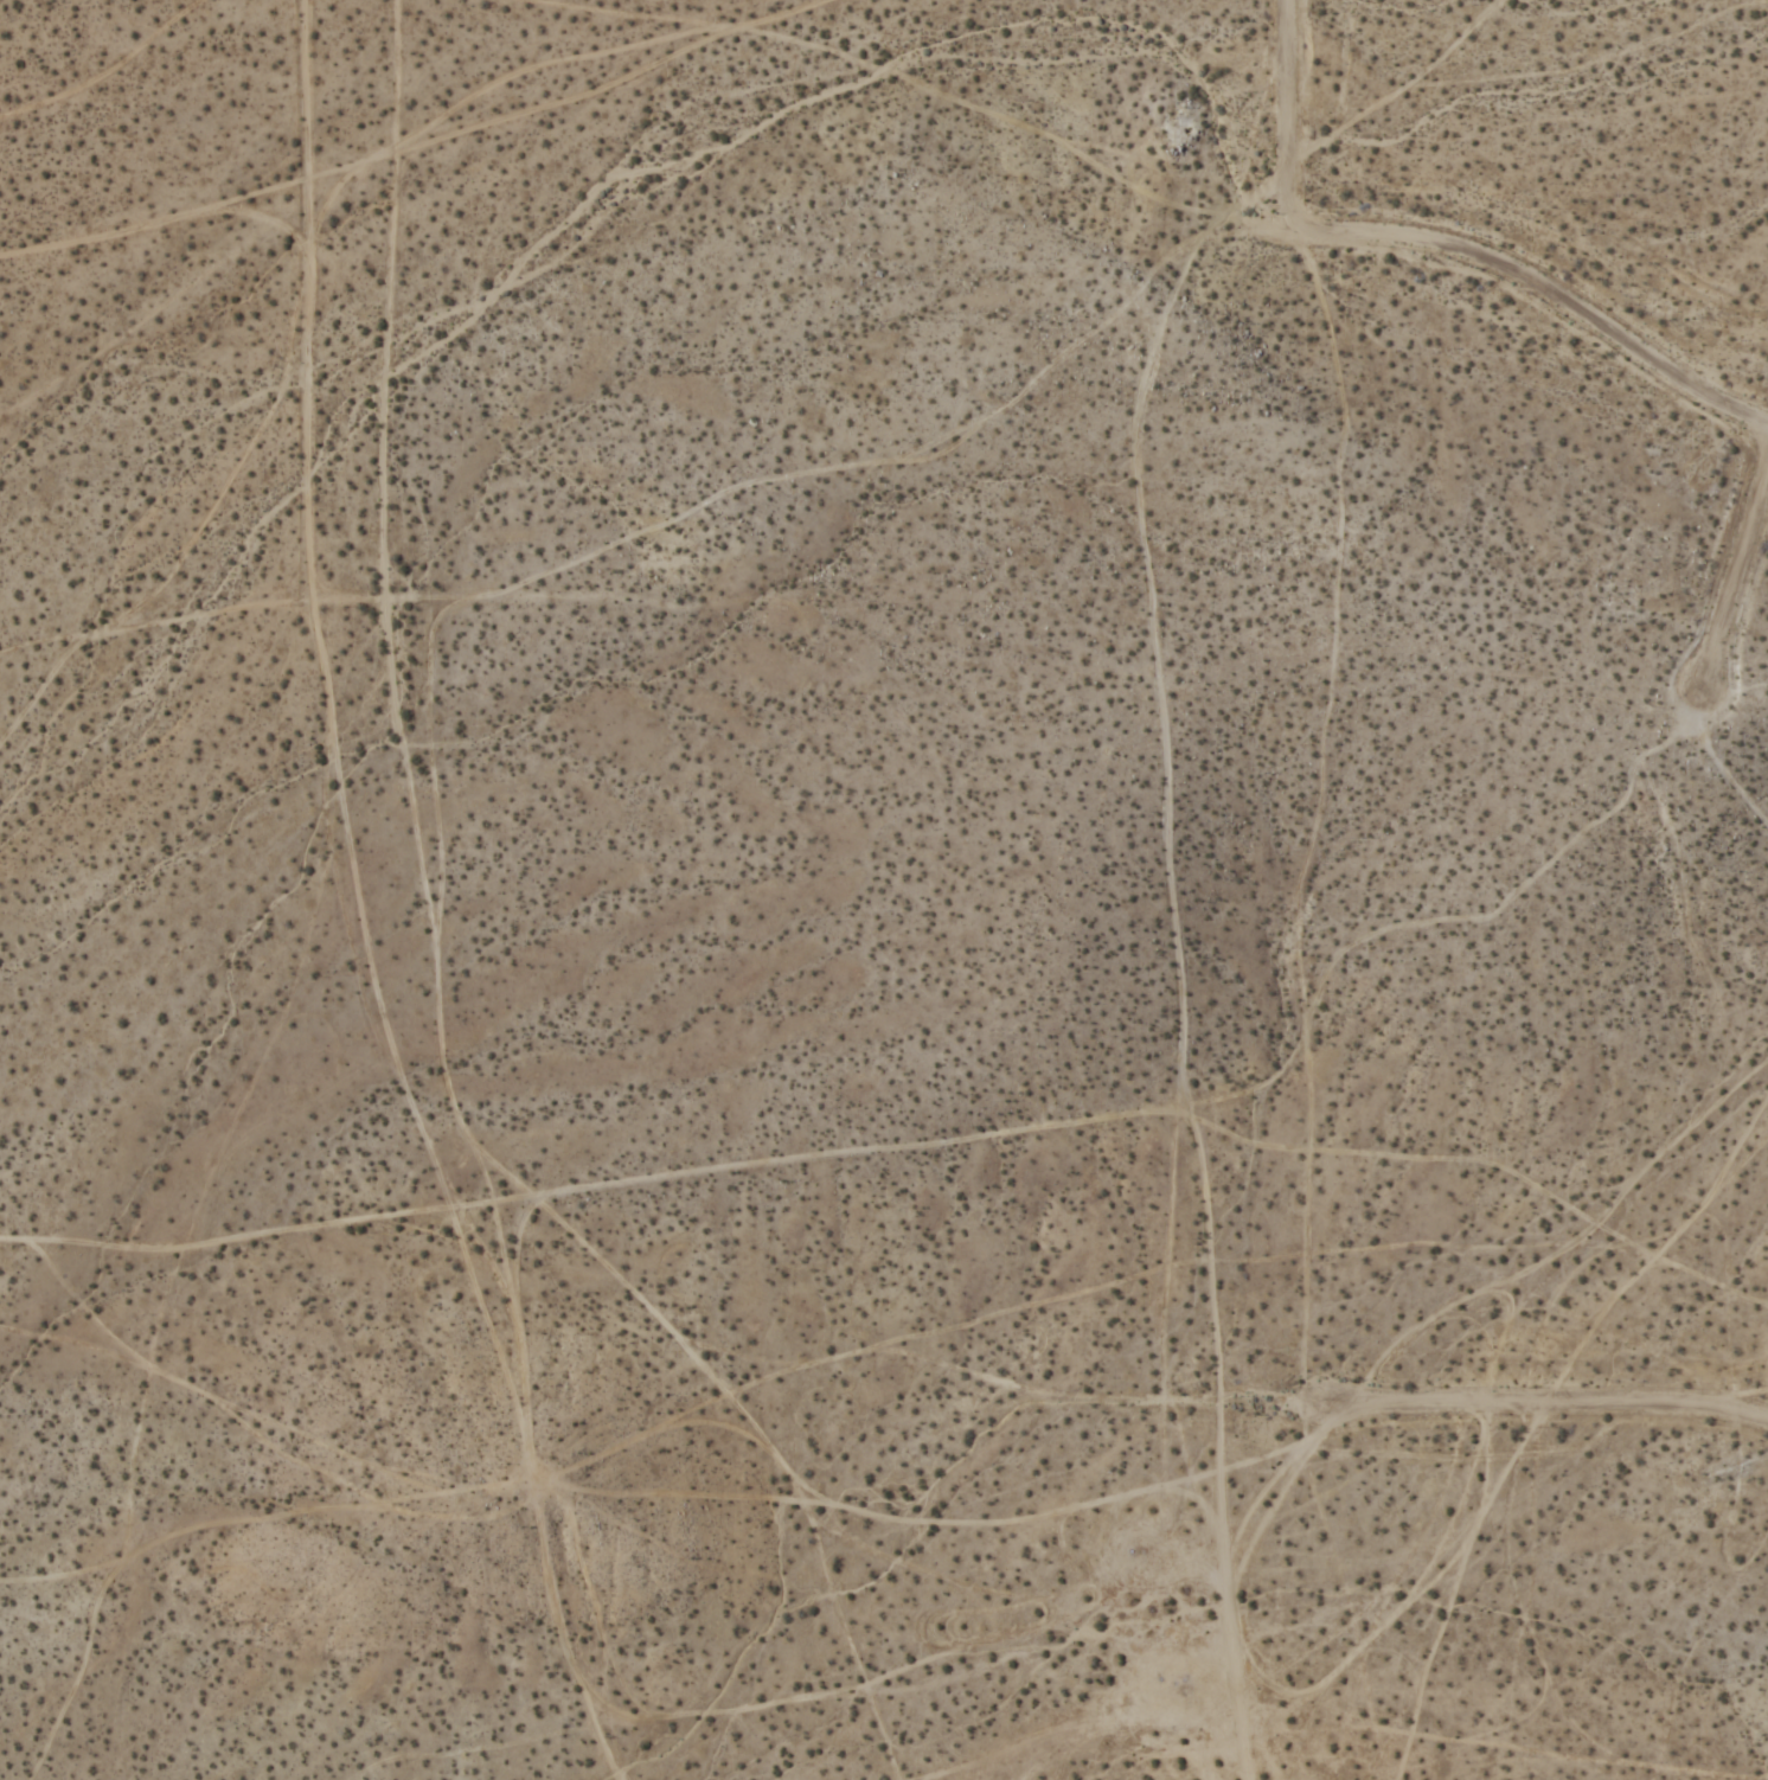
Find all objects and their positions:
road: (1286, 104)
road: (1538, 289)
road: (1736, 578)
road: (1556, 1406)

